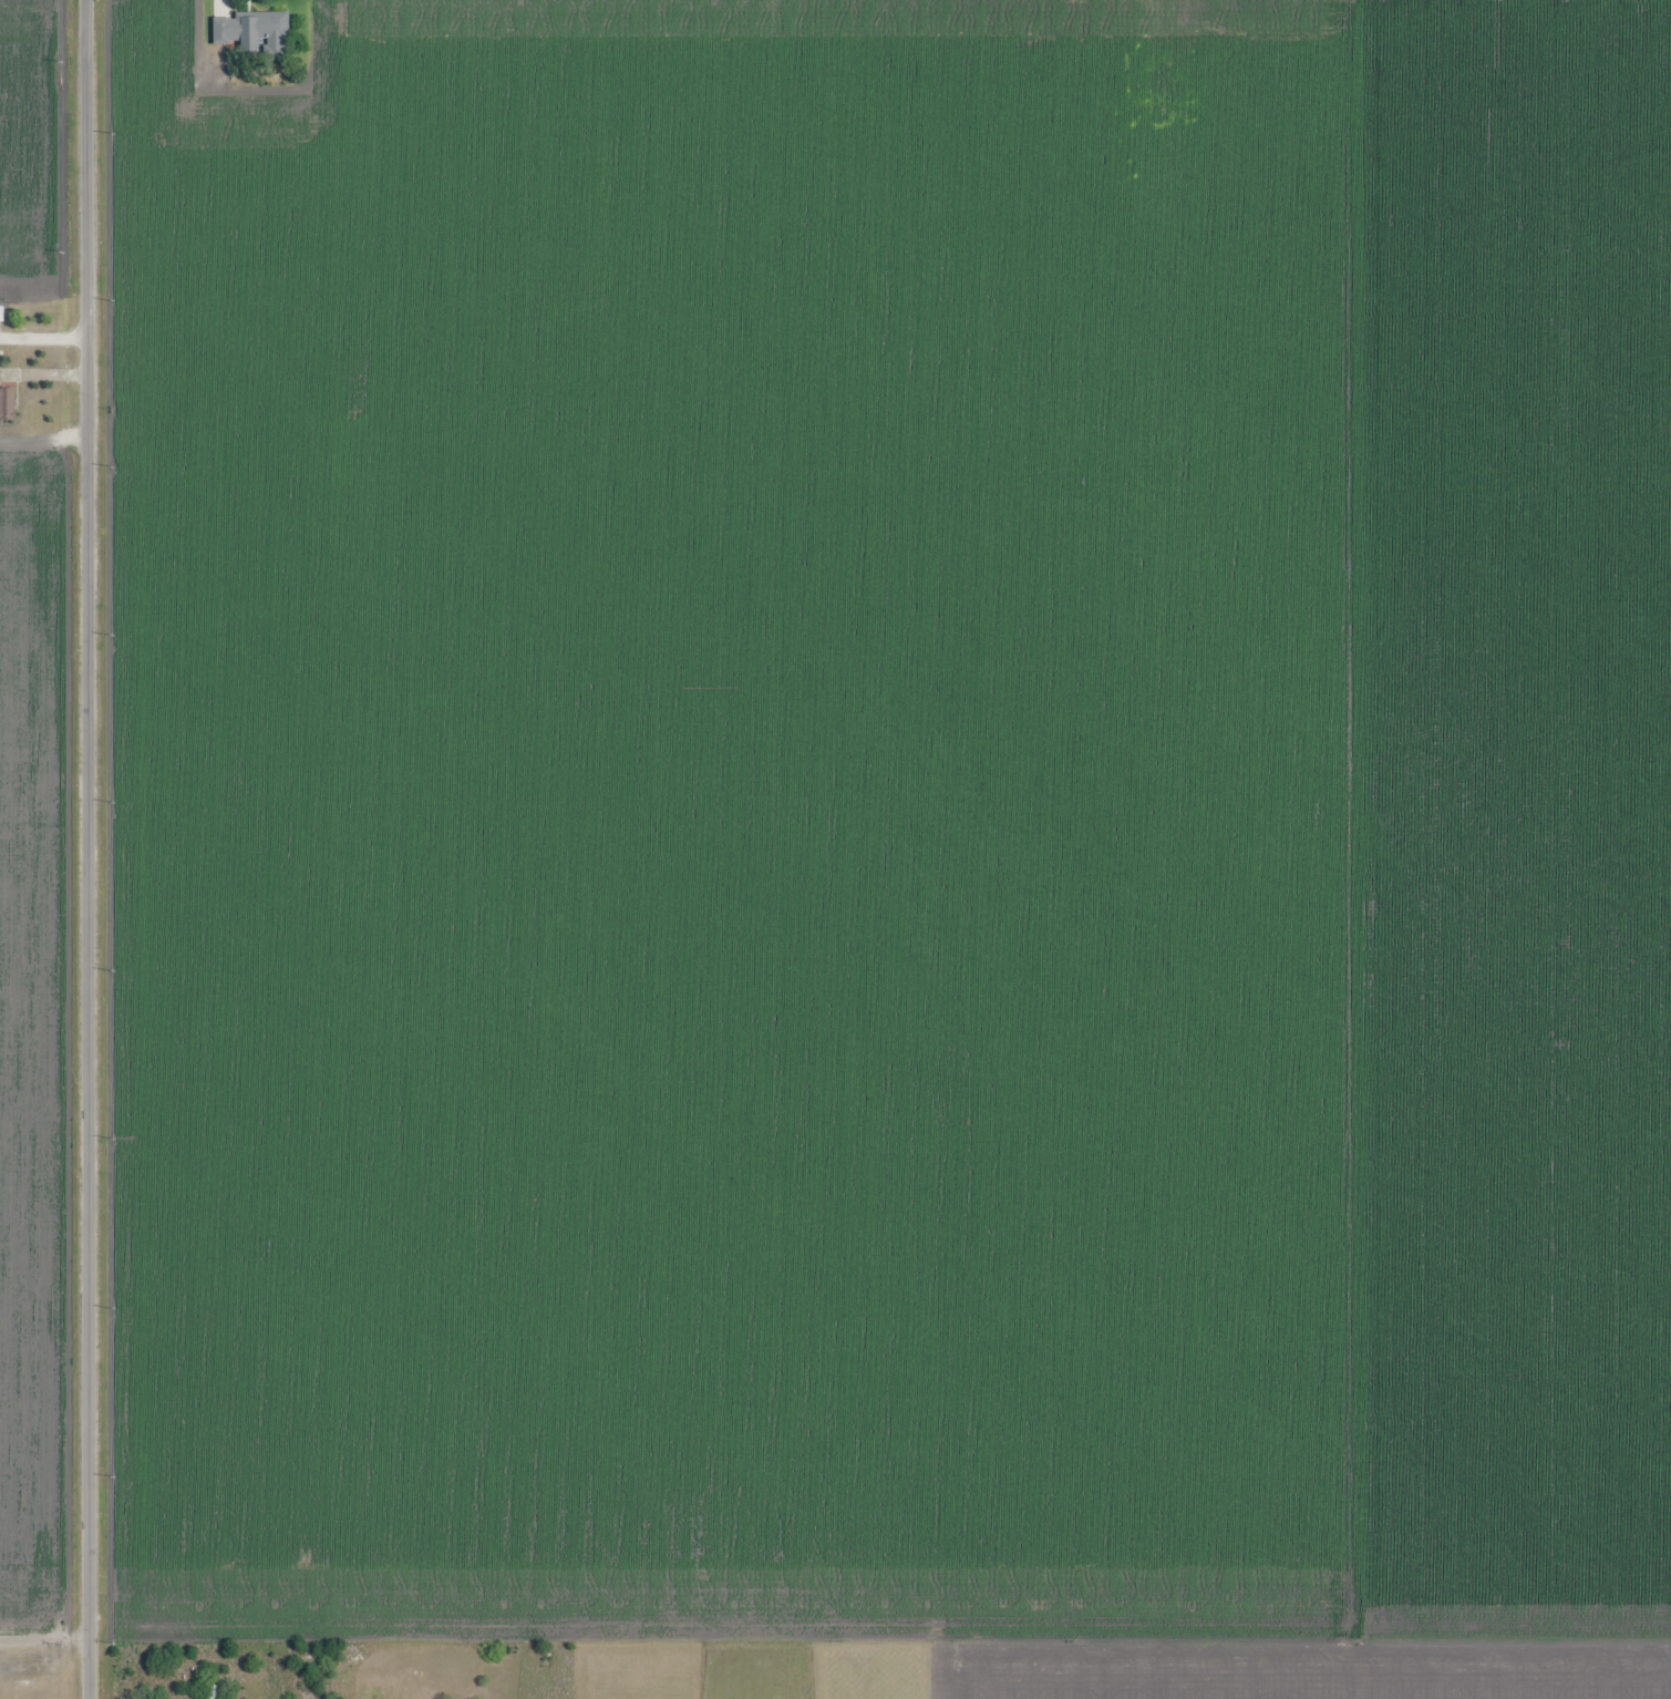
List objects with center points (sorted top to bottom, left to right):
building: (265, 29)
building: (1, 315)
building: (8, 404)
road: (92, 849)

